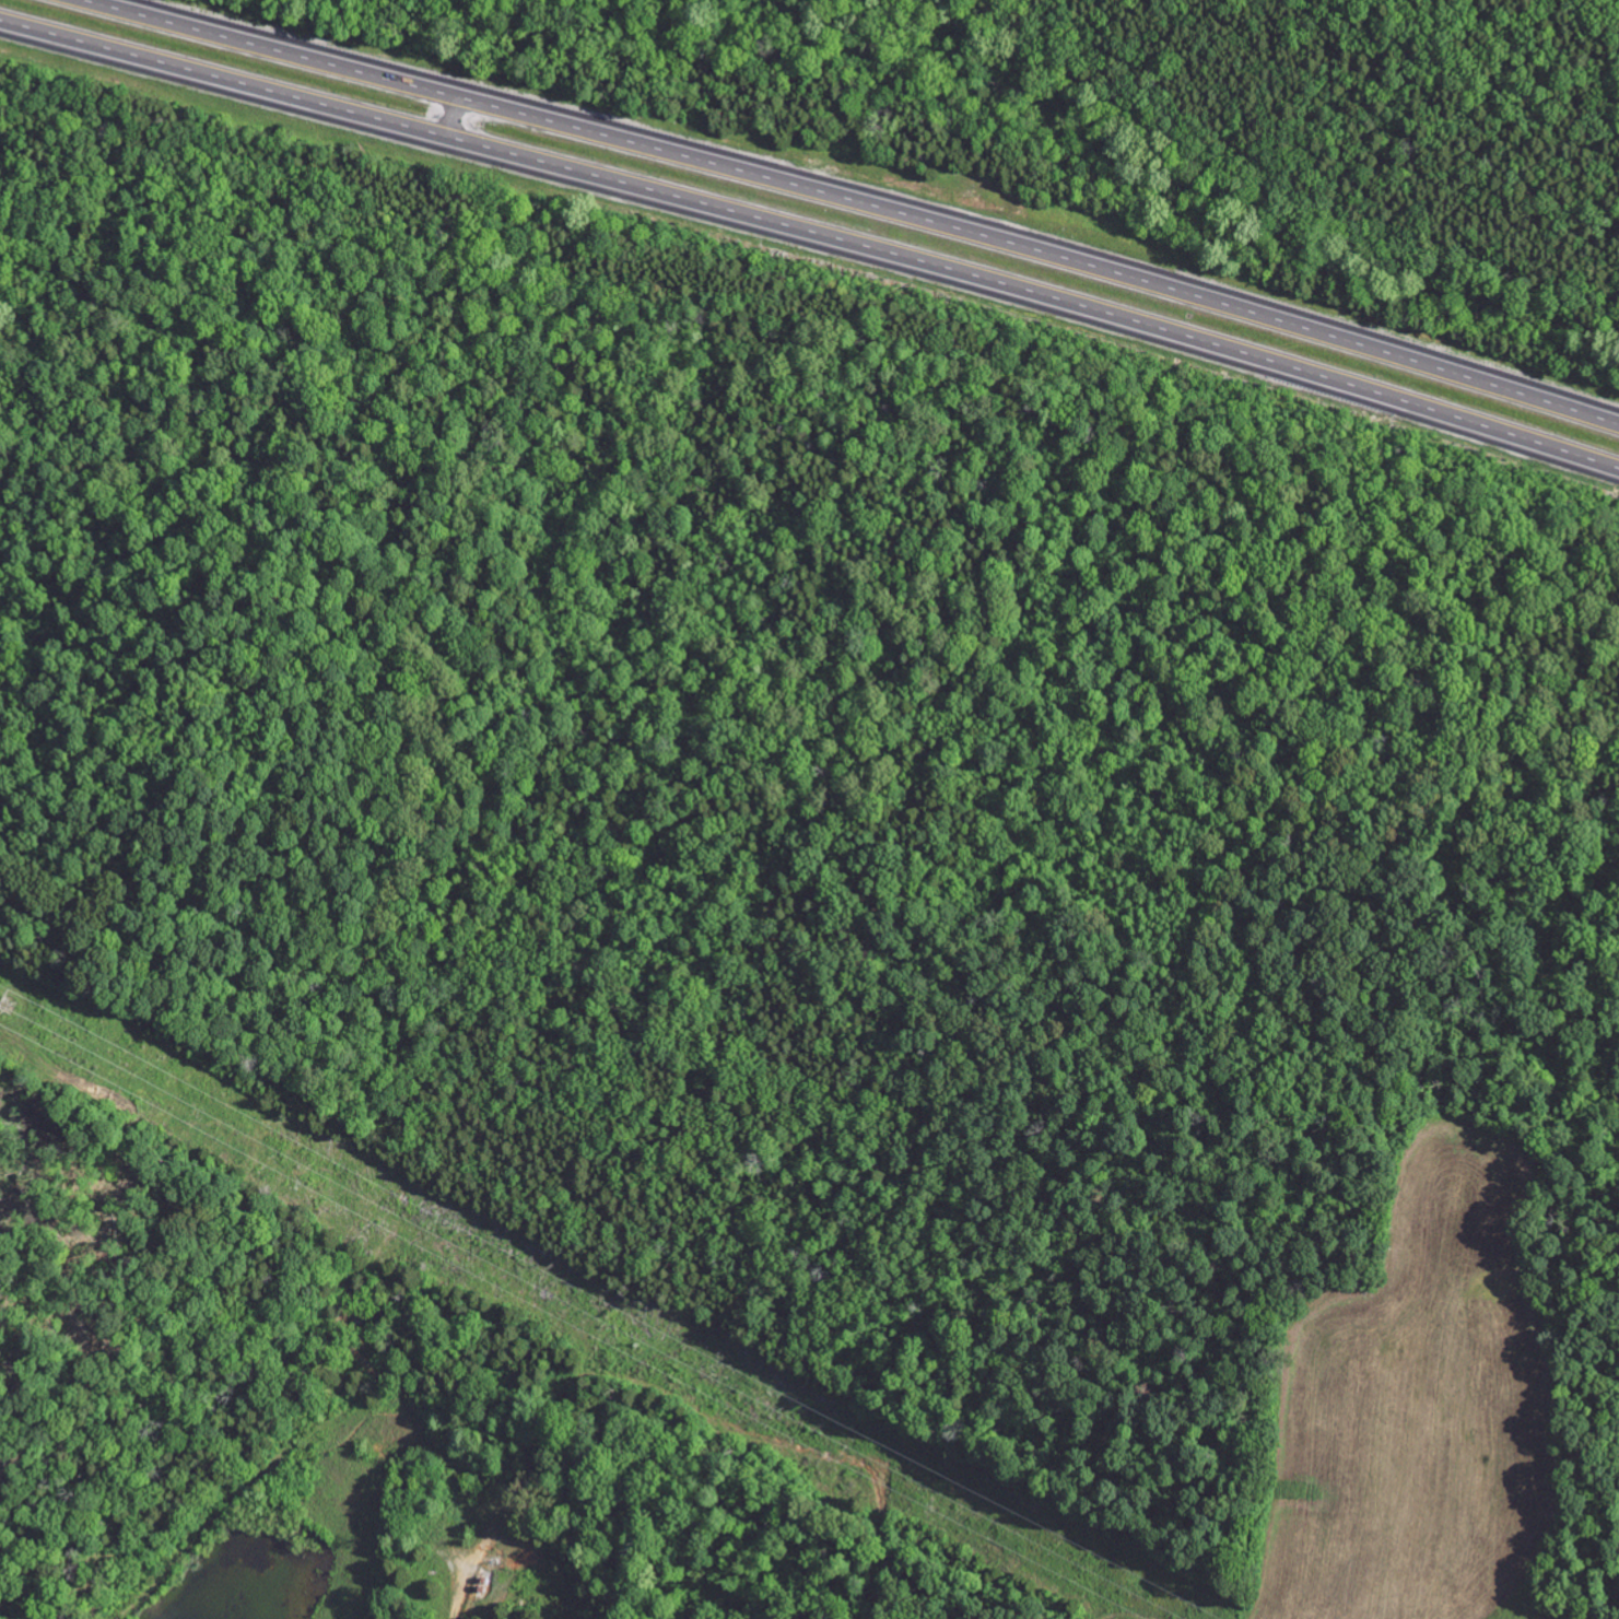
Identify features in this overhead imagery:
road: (859, 199)
road: (812, 232)
power tower: (7, 1004)

